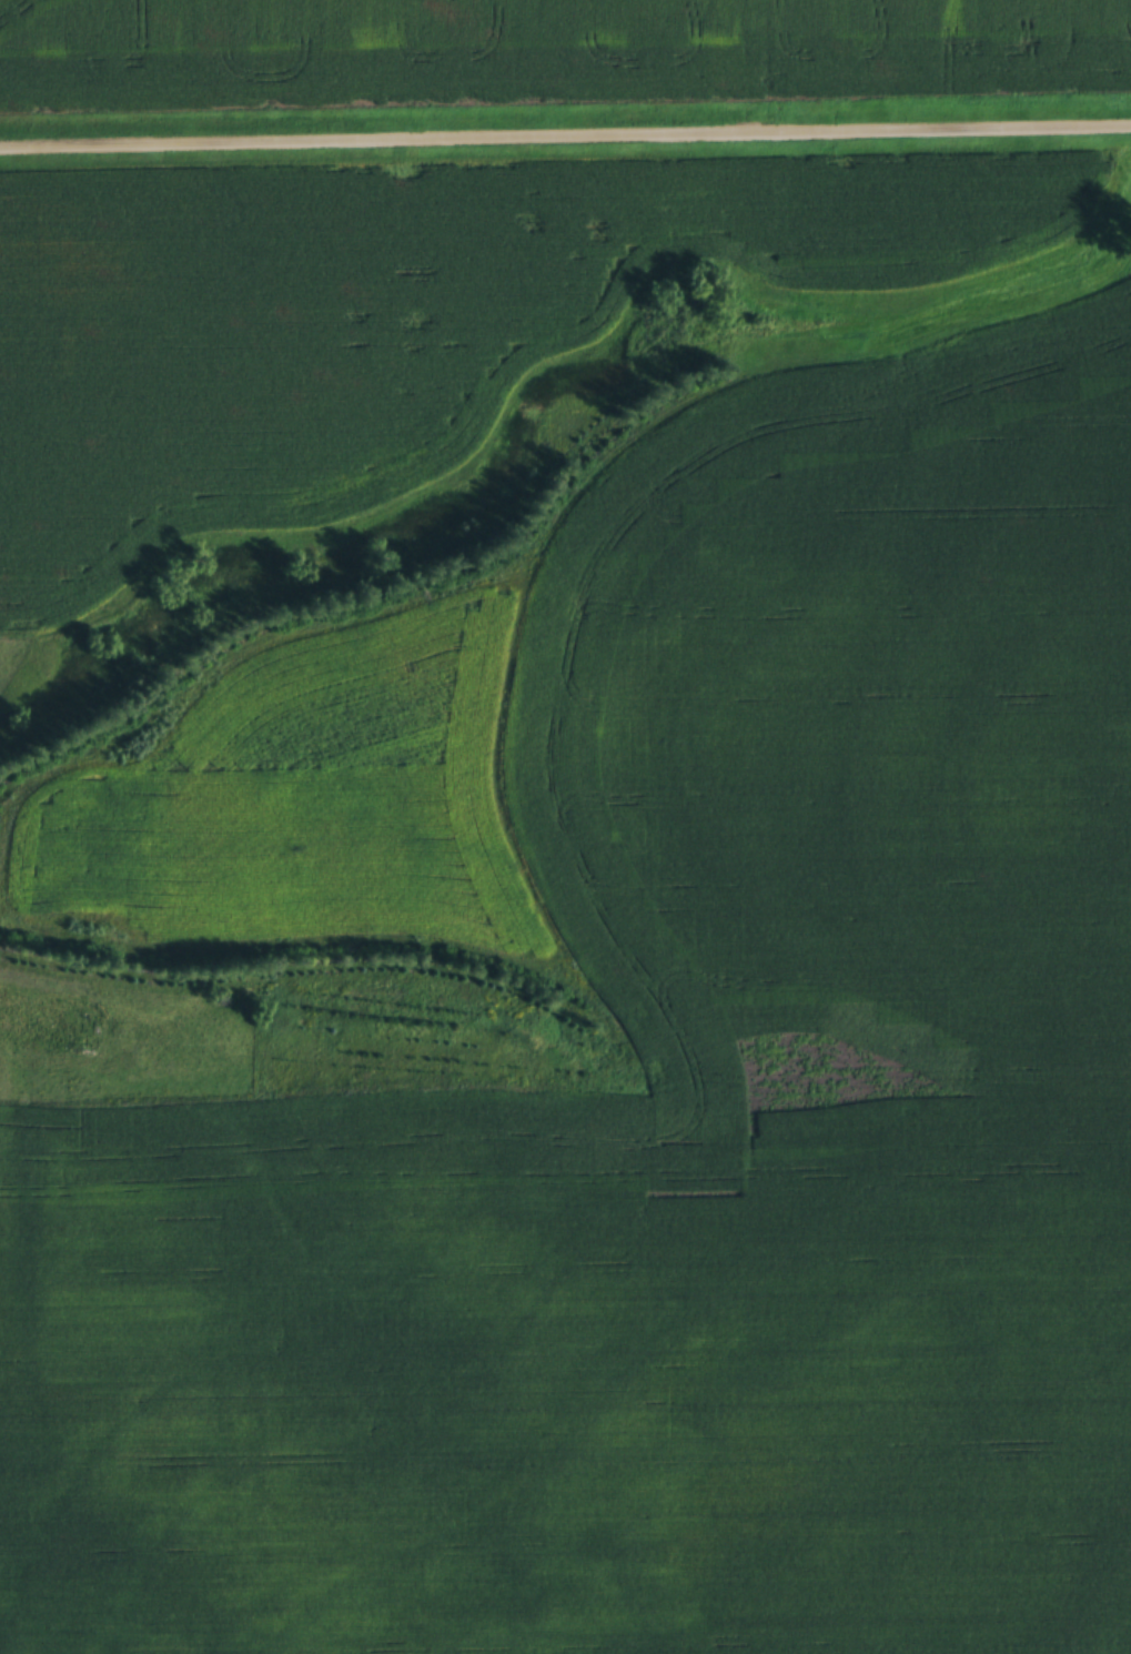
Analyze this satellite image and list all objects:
road: (565, 131)

